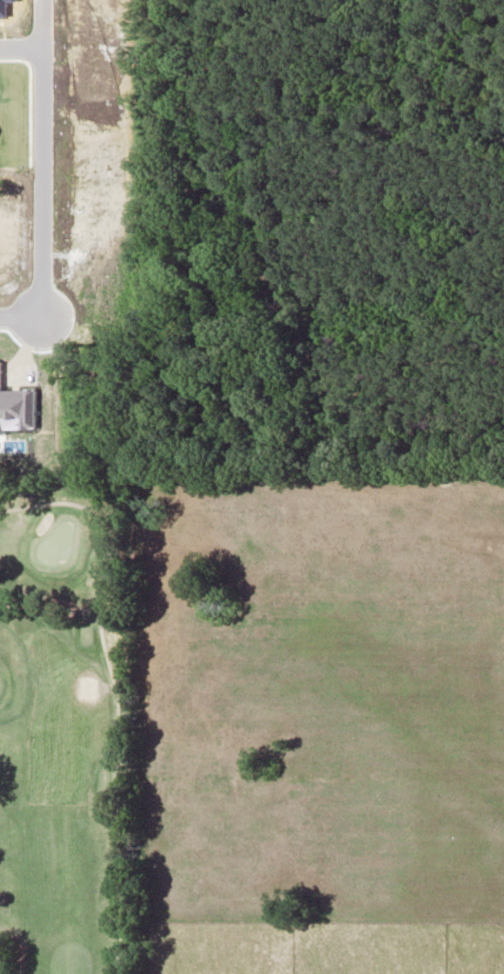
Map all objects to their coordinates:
park: (65, 727)

